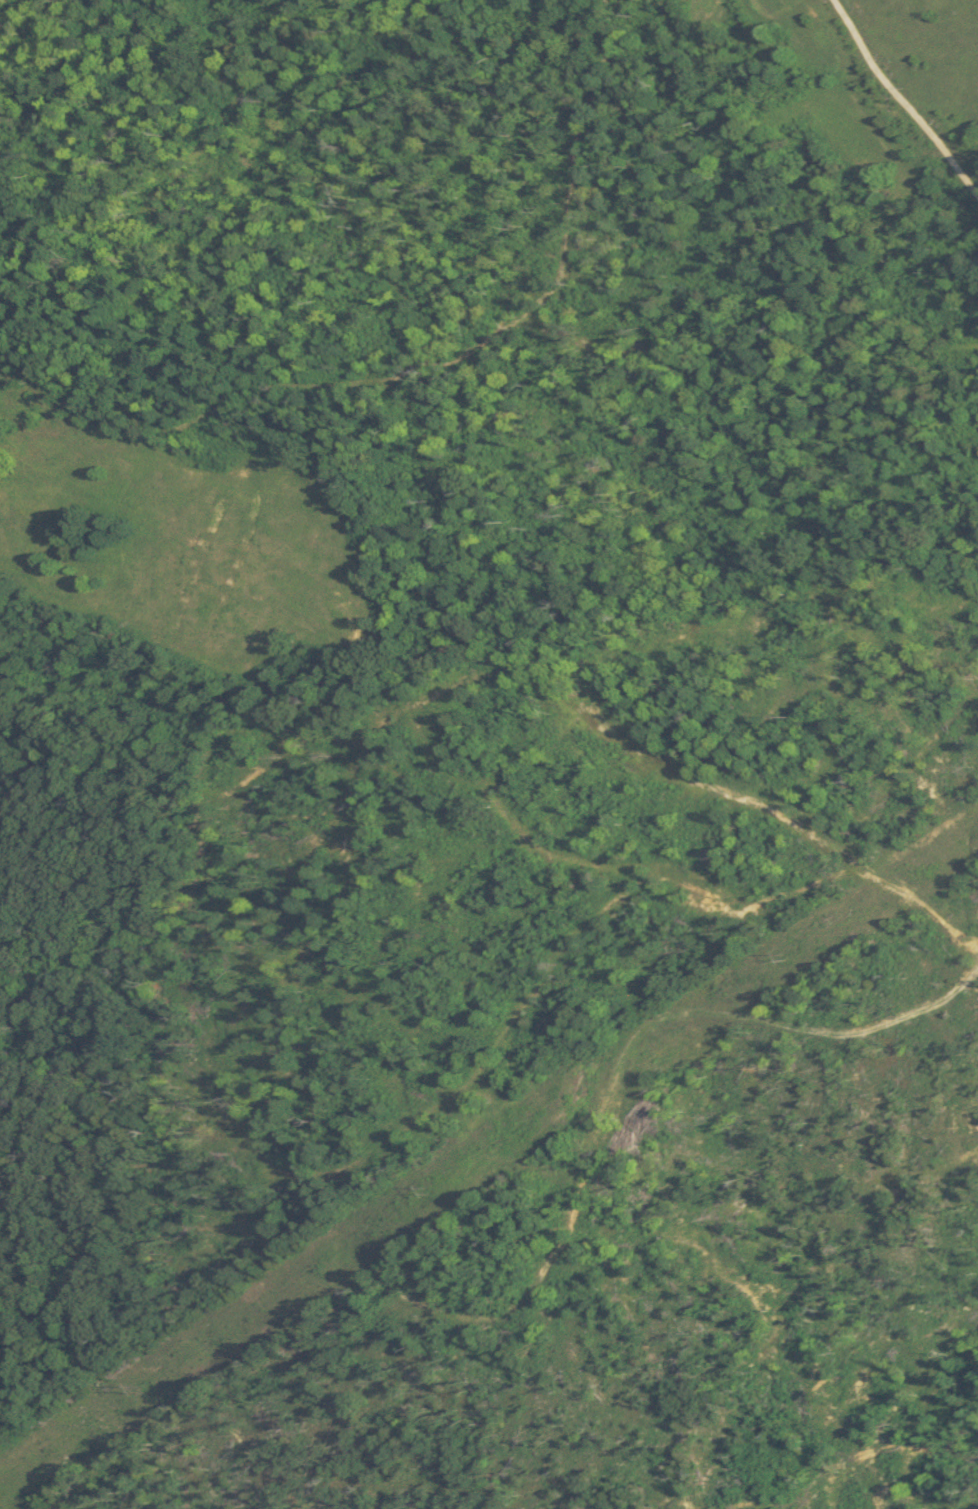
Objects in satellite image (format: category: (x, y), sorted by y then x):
road: (883, 79)

